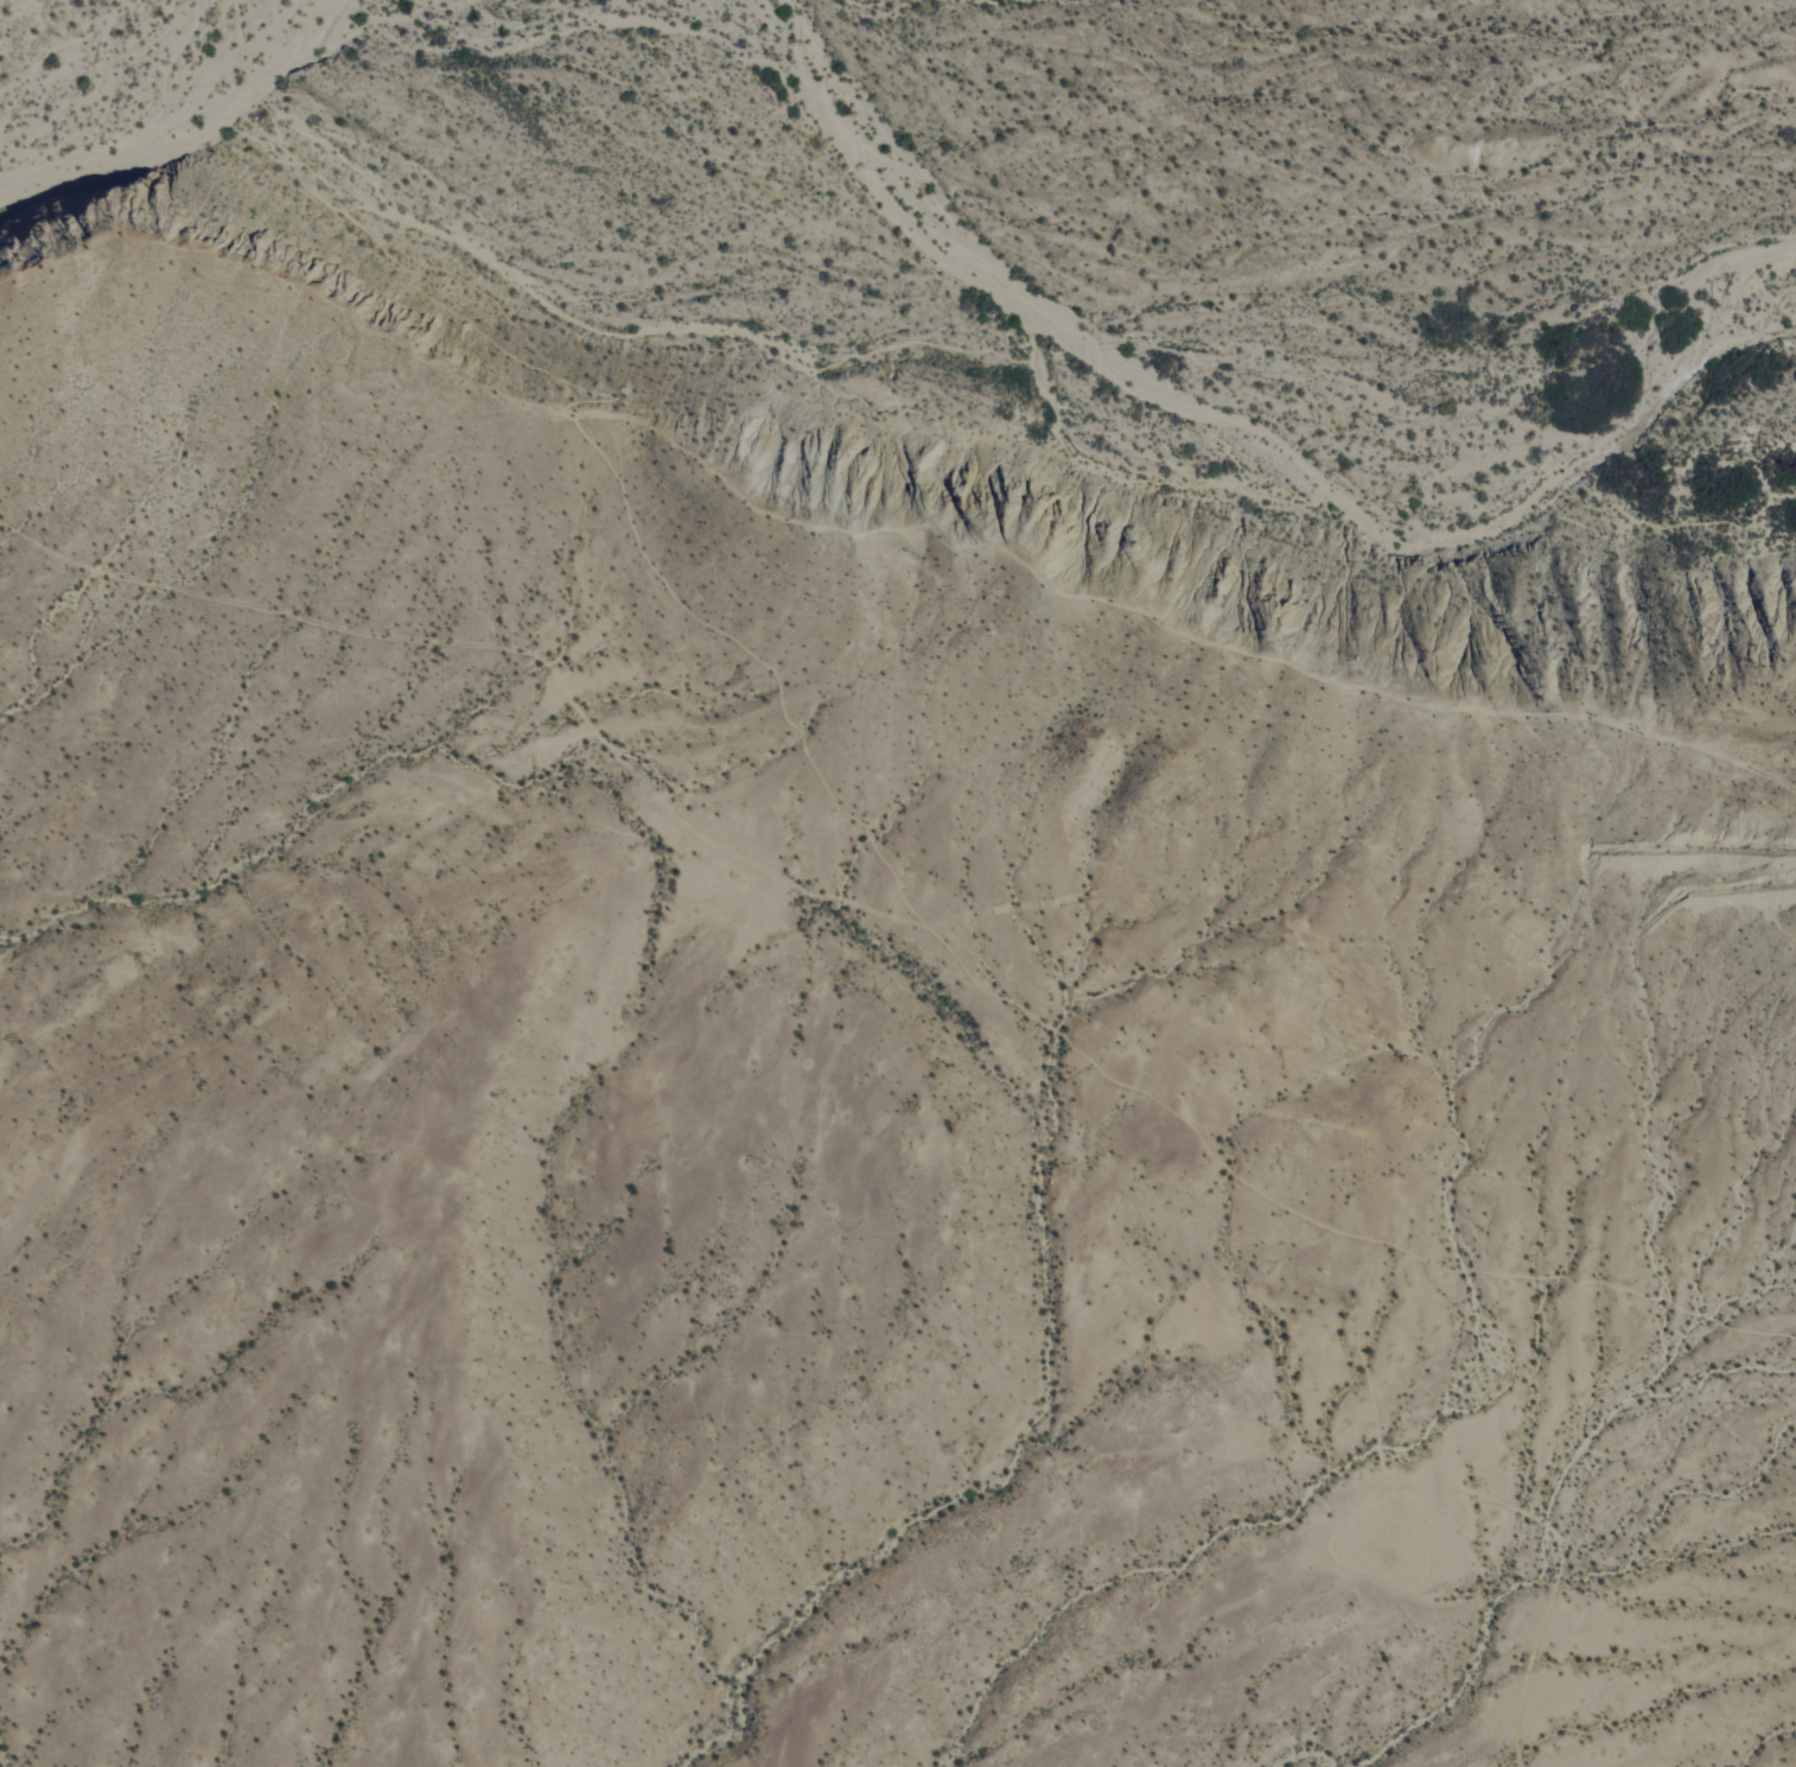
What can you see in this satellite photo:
road: (369, 229)
road: (1172, 618)
road: (899, 888)
road: (1585, 1282)
road: (1475, 1492)

